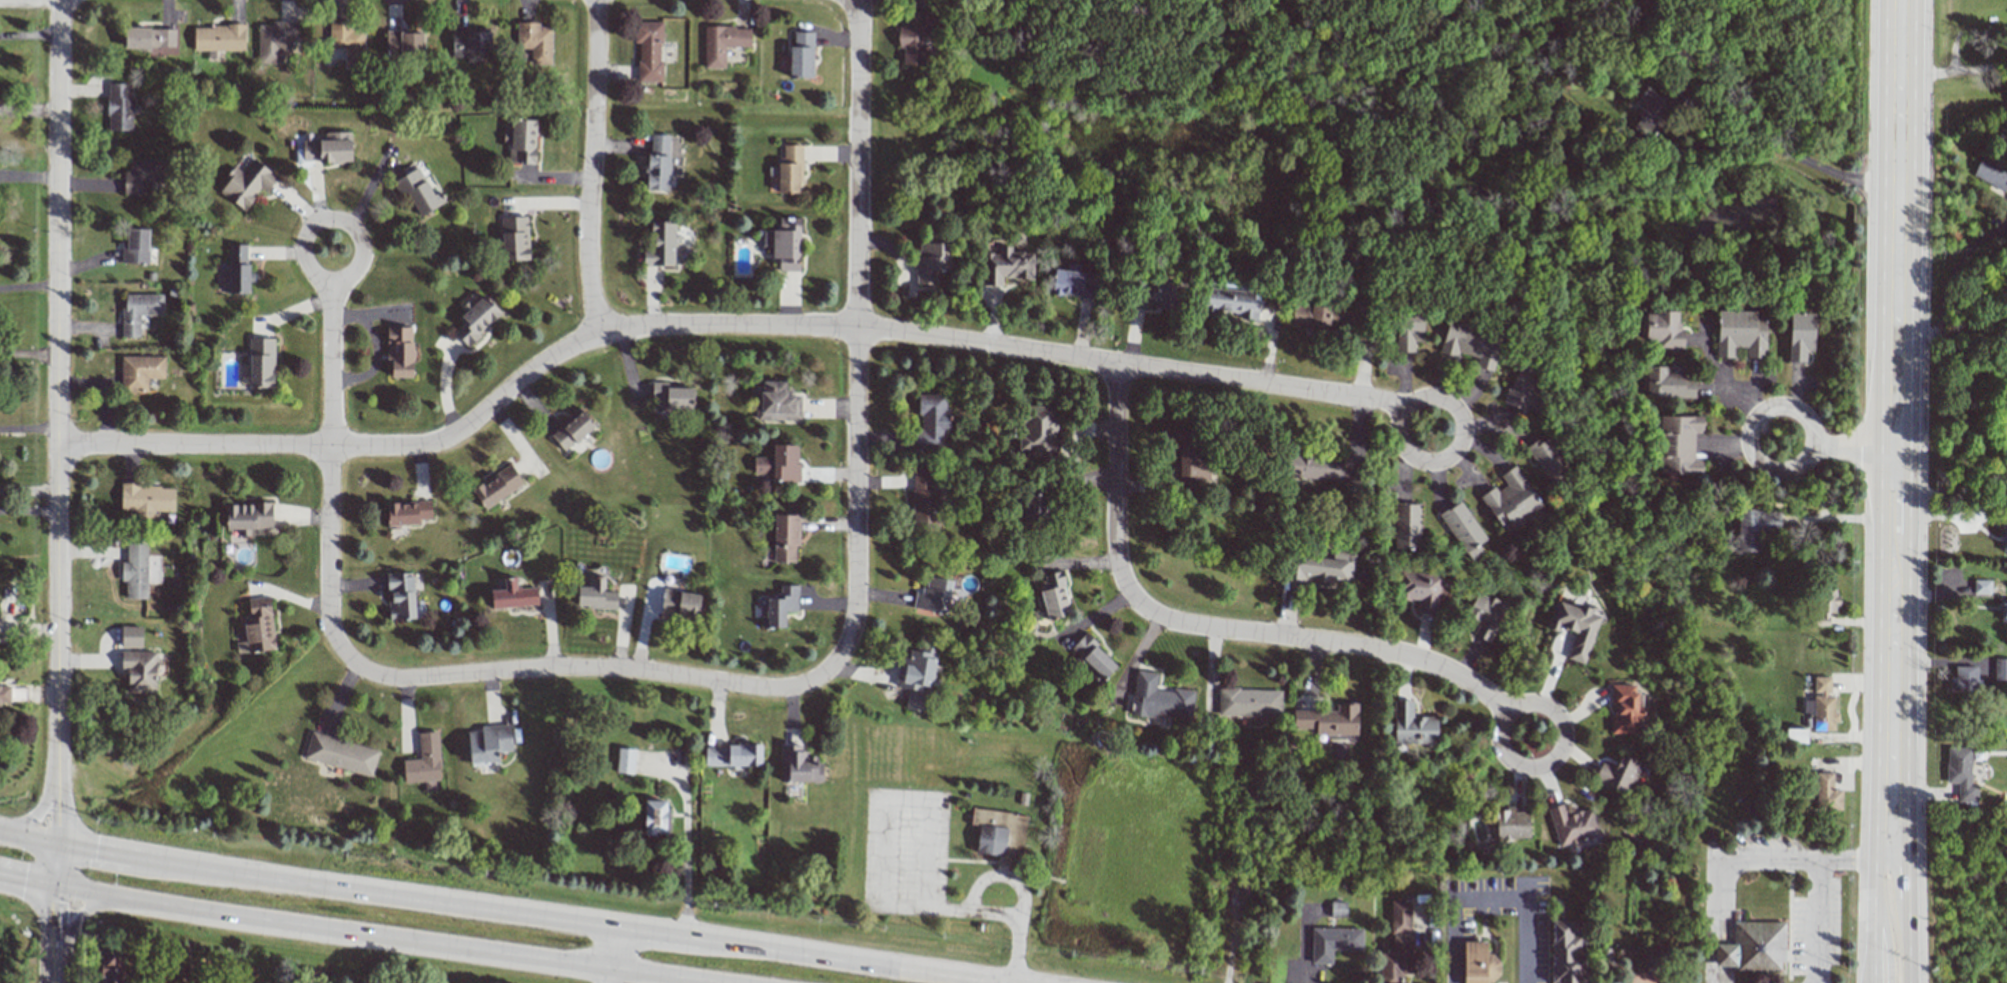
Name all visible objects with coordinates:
building: (149, 38)
building: (913, 38)
building: (218, 39)
building: (275, 41)
building: (535, 41)
building: (470, 42)
building: (348, 43)
building: (404, 43)
building: (723, 43)
building: (648, 51)
building: (801, 56)
road: (1953, 70)
building: (119, 108)
building: (1649, 113)
building: (521, 141)
building: (328, 148)
road: (1796, 157)
building: (658, 162)
road: (592, 168)
building: (789, 169)
building: (1991, 173)
building: (143, 176)
building: (247, 183)
building: (417, 192)
road: (1897, 228)
building: (514, 238)
building: (784, 244)
building: (136, 246)
building: (664, 246)
building: (931, 262)
building: (1006, 266)
road: (1953, 268)
building: (238, 269)
building: (1073, 282)
road: (29, 286)
building: (1159, 293)
building: (1231, 302)
building: (138, 311)
building: (1318, 318)
building: (476, 319)
road: (819, 327)
building: (1663, 328)
building: (1408, 332)
road: (1954, 333)
building: (1740, 334)
building: (1800, 336)
road: (857, 338)
building: (1469, 342)
building: (400, 352)
building: (261, 362)
building: (140, 372)
building: (1668, 383)
building: (1524, 389)
road: (1730, 389)
road: (57, 390)
road: (330, 391)
building: (672, 396)
building: (776, 403)
building: (932, 423)
road: (28, 427)
building: (571, 429)
building: (1038, 431)
building: (1678, 445)
road: (1836, 455)
building: (1547, 460)
building: (779, 464)
building: (1317, 467)
building: (497, 486)
road: (1951, 487)
road: (28, 489)
building: (146, 499)
building: (924, 499)
building: (1512, 501)
road: (28, 509)
building: (1034, 510)
building: (408, 512)
road: (1950, 513)
building: (248, 516)
road: (1839, 516)
building: (1406, 526)
building: (1755, 528)
building: (1463, 530)
building: (785, 538)
building: (2004, 539)
building: (1326, 568)
building: (135, 572)
building: (1981, 587)
building: (1422, 590)
building: (595, 594)
building: (513, 595)
building: (932, 596)
building: (1052, 596)
building: (680, 605)
building: (779, 607)
building: (2004, 613)
building: (1485, 615)
building: (257, 627)
road: (1223, 627)
building: (1574, 628)
building: (131, 636)
road: (1891, 647)
building: (1092, 659)
road: (603, 669)
building: (2000, 669)
building: (140, 670)
building: (916, 677)
building: (1963, 679)
building: (4, 694)
building: (1158, 698)
building: (1249, 702)
building: (1821, 705)
building: (1624, 710)
building: (1328, 720)
building: (1412, 725)
building: (1795, 736)
building: (489, 743)
building: (341, 754)
building: (424, 760)
building: (625, 761)
building: (799, 765)
building: (1960, 772)
building: (1619, 774)
building: (1826, 793)
road: (890, 800)
road: (56, 812)
road: (35, 813)
building: (655, 818)
building: (1511, 824)
building: (1572, 825)
building: (998, 833)
road: (28, 838)
road: (1886, 849)
road: (1796, 858)
road: (1888, 859)
road: (55, 865)
road: (685, 875)
road: (27, 880)
building: (1244, 891)
road: (1489, 897)
building: (1338, 909)
road: (1902, 910)
road: (1000, 913)
road: (81, 914)
road: (531, 915)
road: (54, 917)
building: (1400, 917)
road: (1709, 920)
road: (1873, 920)
road: (1816, 921)
road: (390, 937)
road: (1887, 941)
building: (1333, 942)
road: (1231, 943)
building: (1753, 948)
building: (1565, 953)
road: (610, 954)
building: (1396, 960)
building: (1479, 964)
road: (55, 965)
building: (112, 967)
road: (1870, 969)

